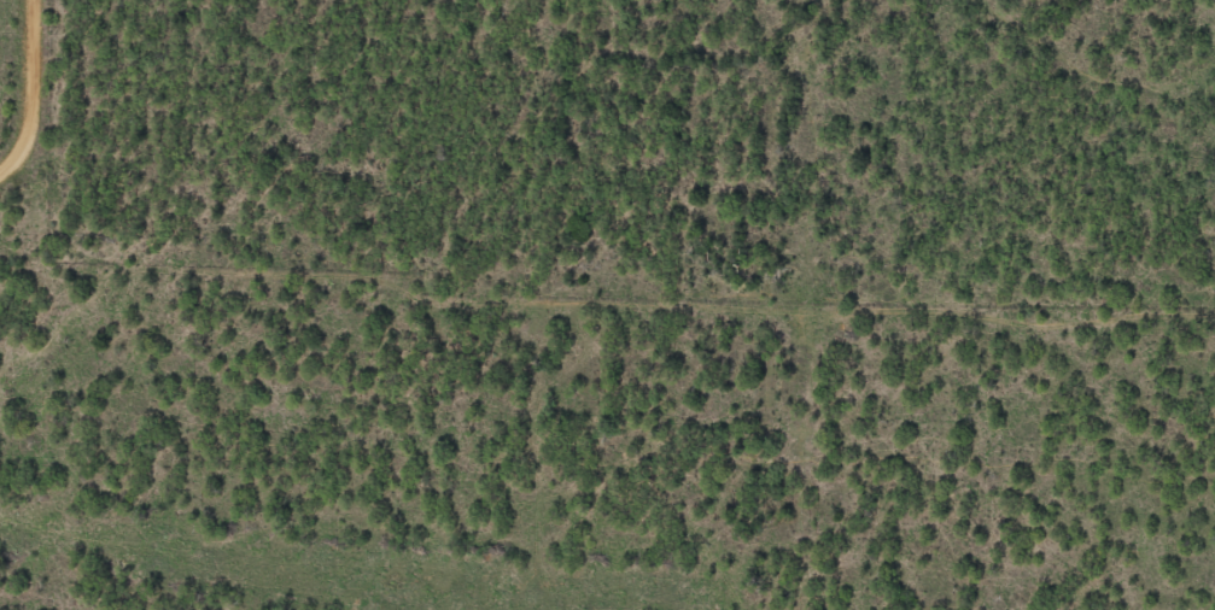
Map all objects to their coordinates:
road: (31, 92)

